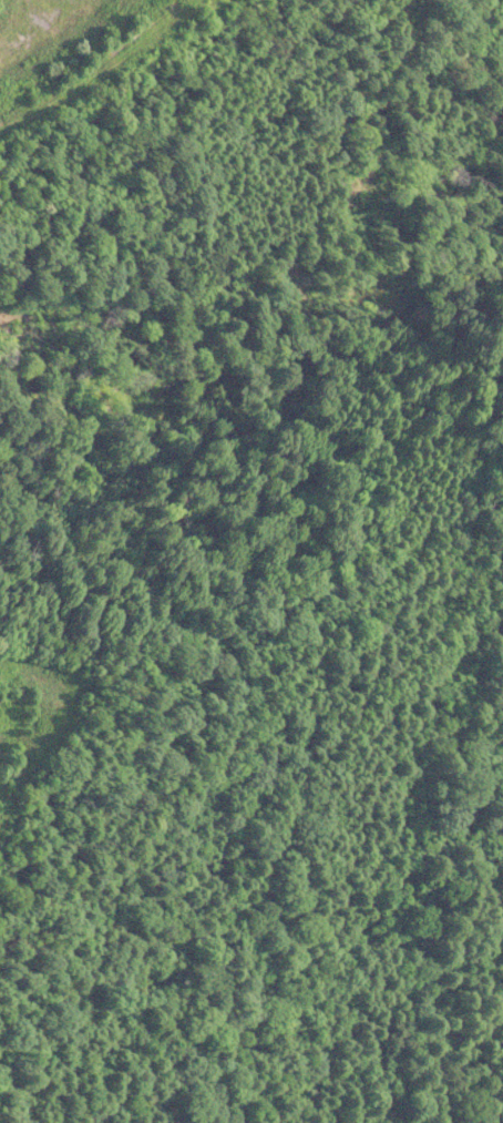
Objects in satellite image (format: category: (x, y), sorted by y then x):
quarry: (65, 37)
quarry: (13, 692)

